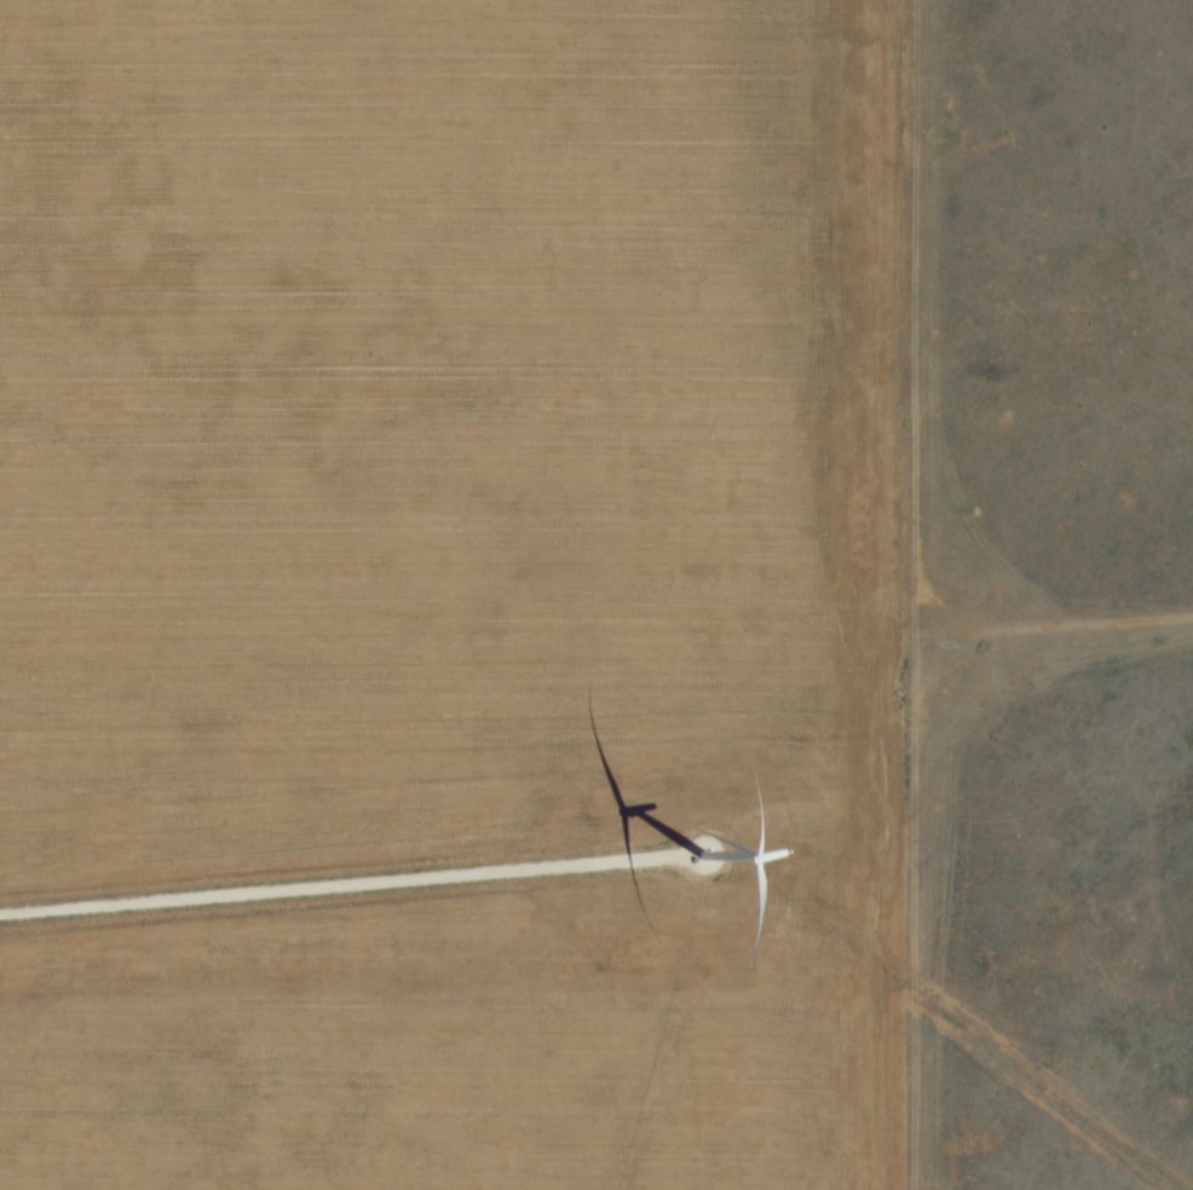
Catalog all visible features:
wind turbine: (698, 861)

